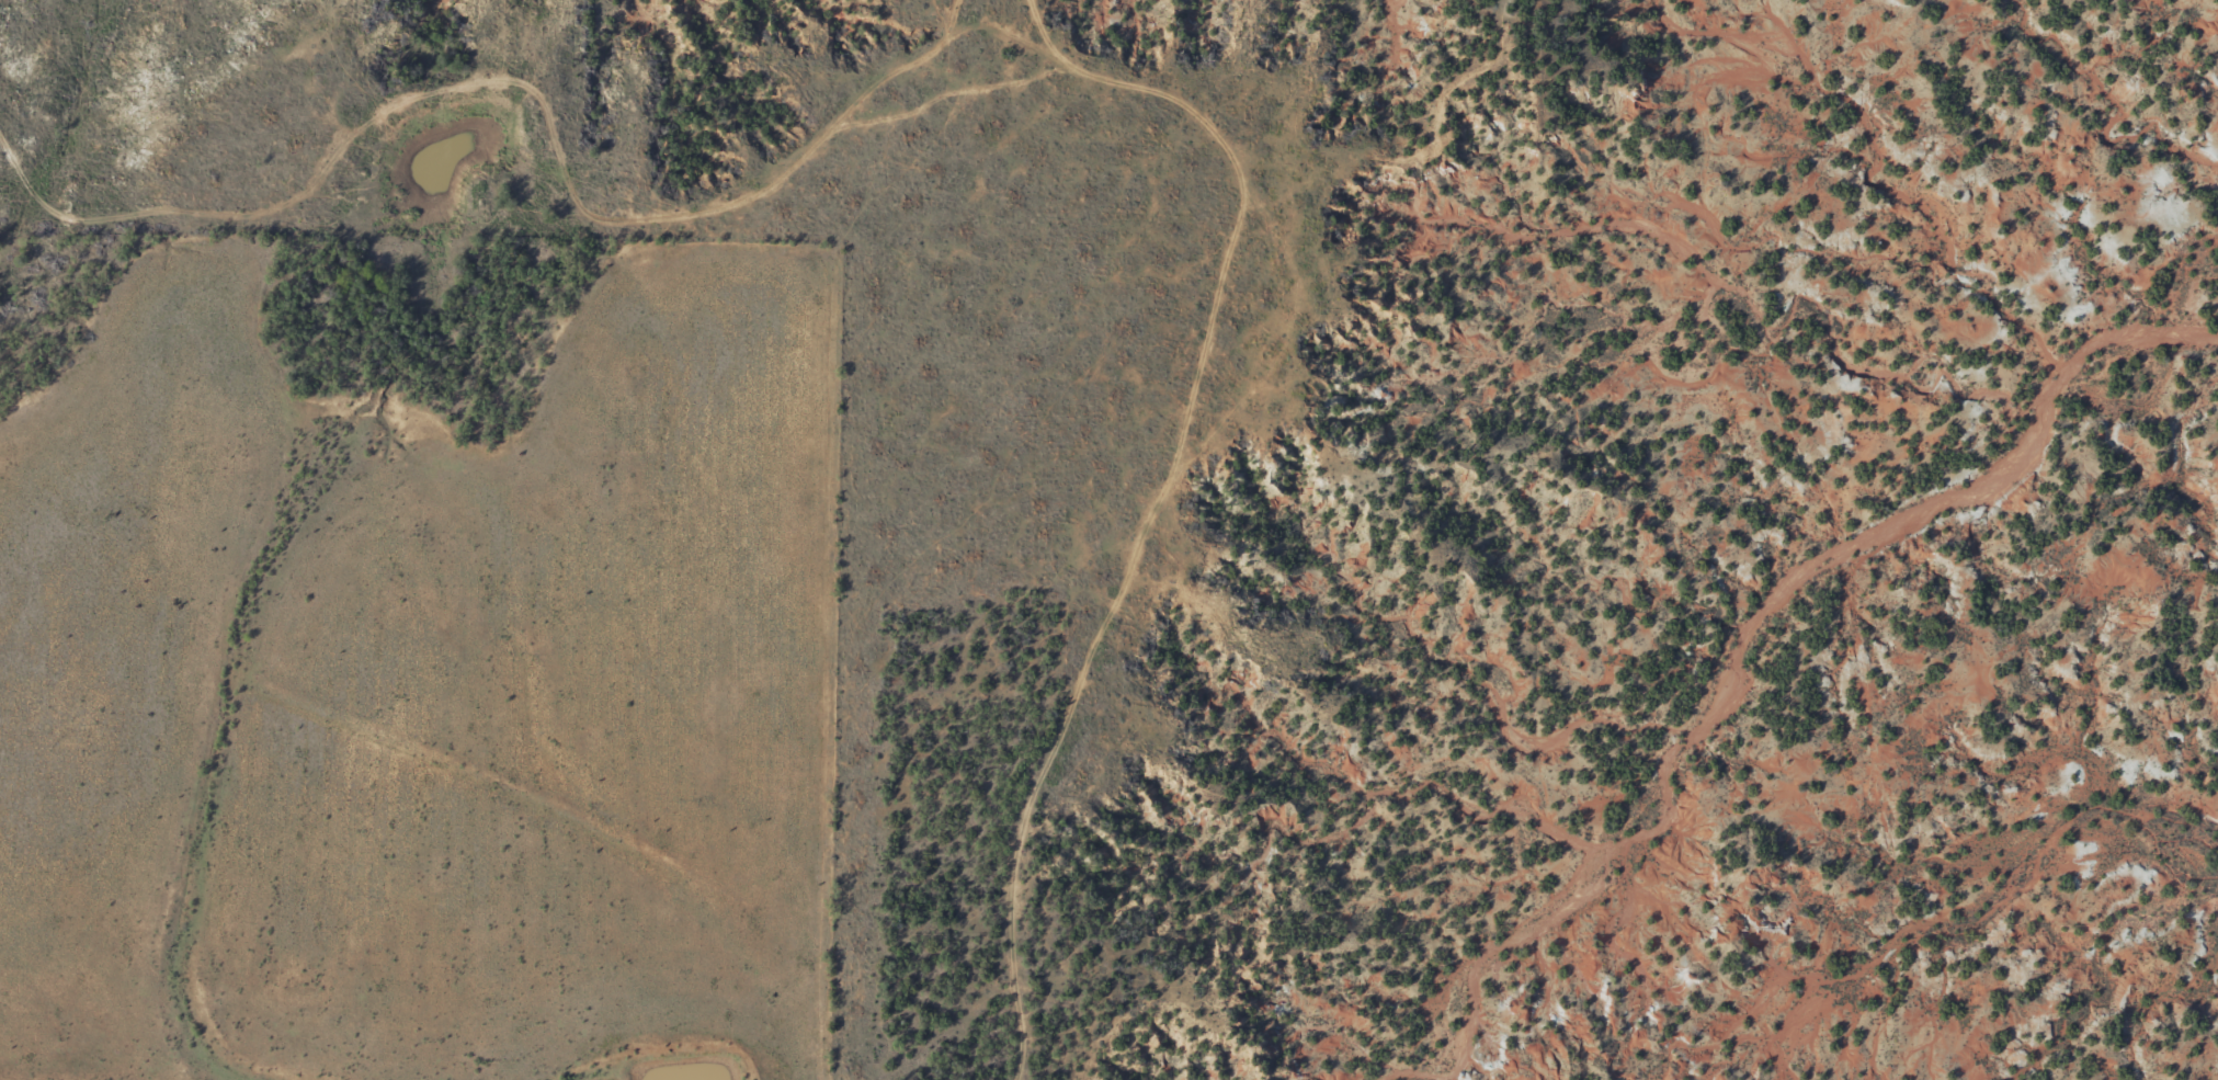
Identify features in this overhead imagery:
road: (167, 560)

